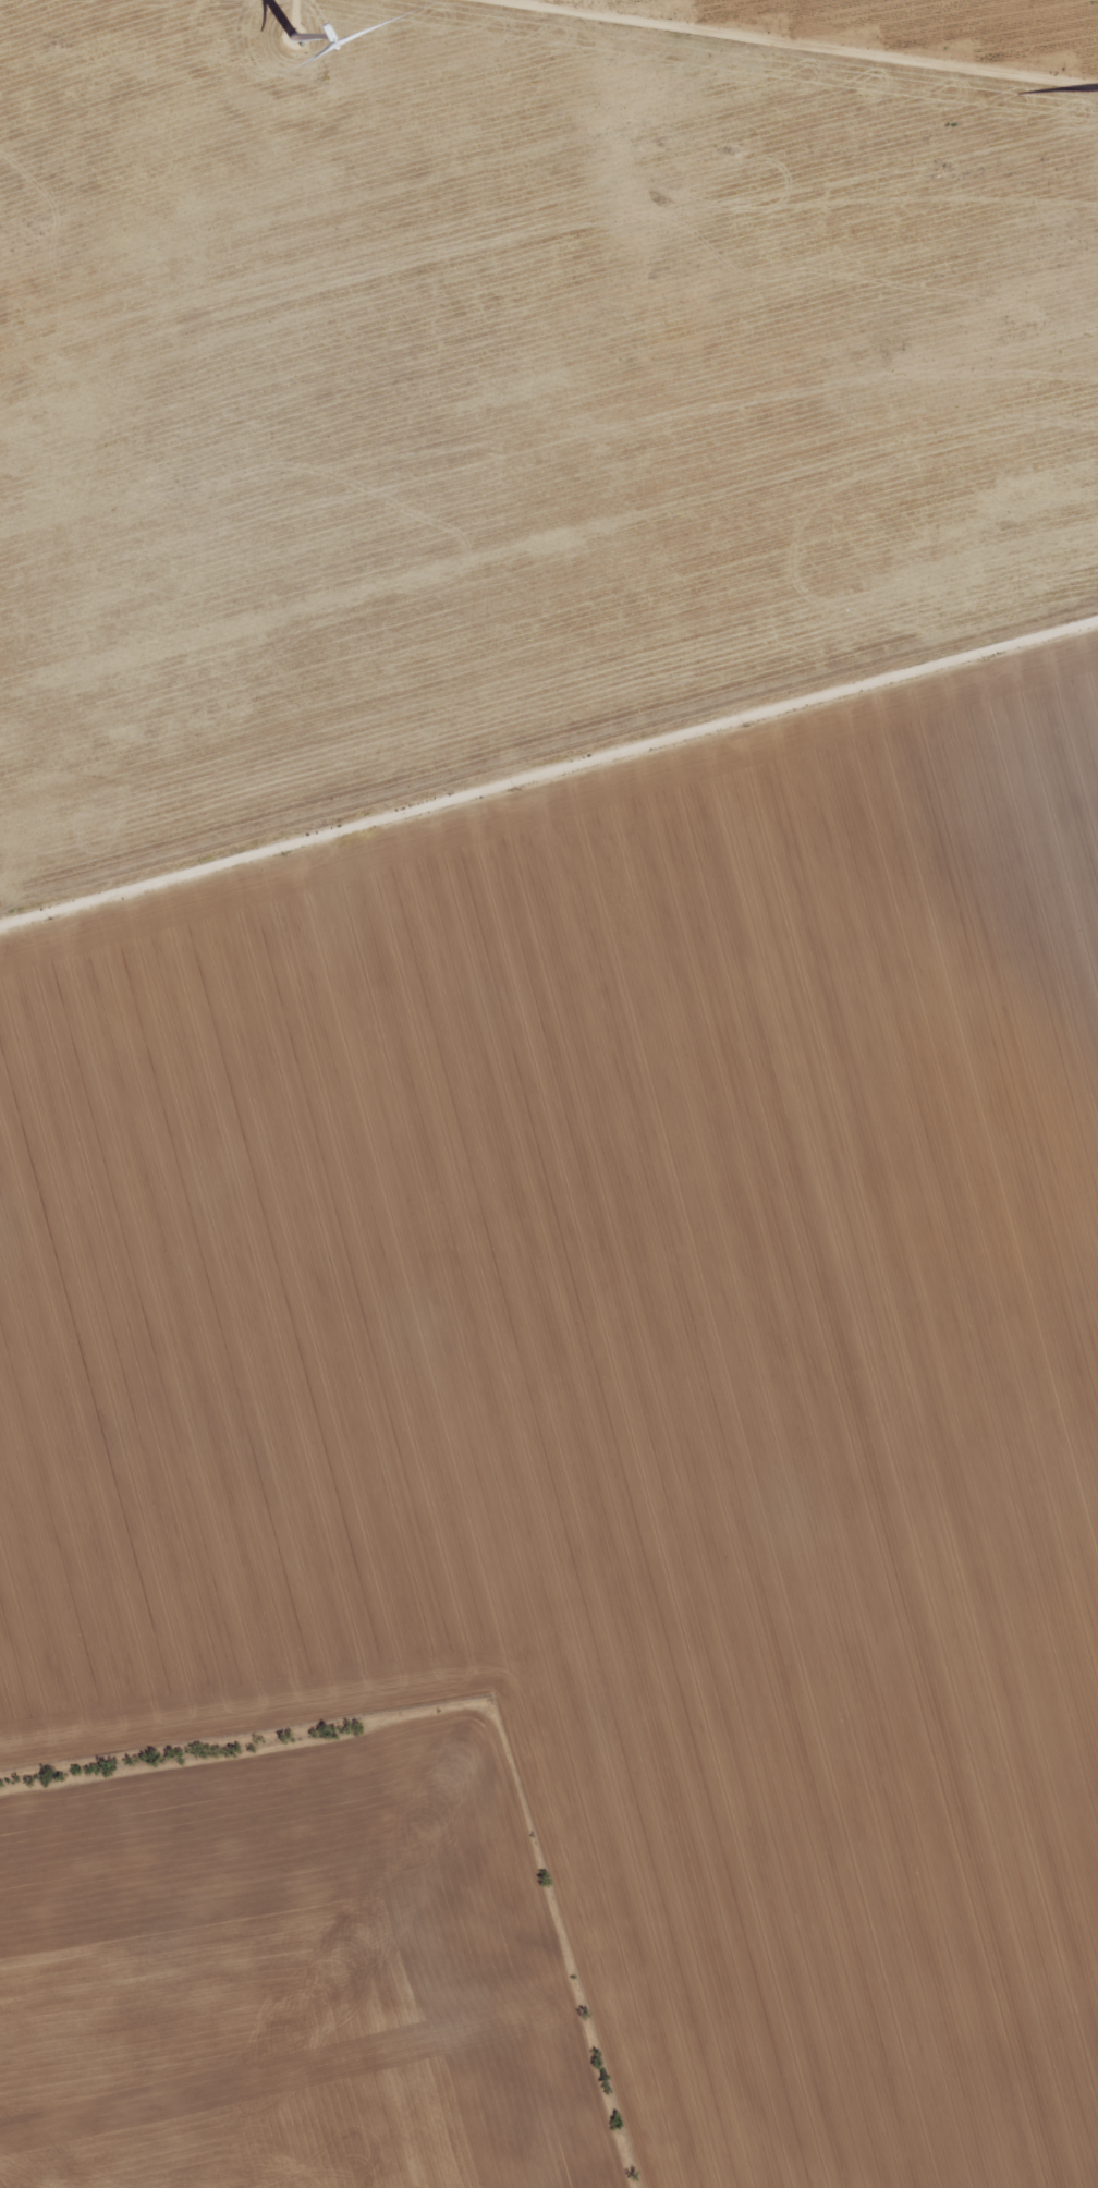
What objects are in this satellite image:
wind turbine: (292, 36)
road: (549, 802)

